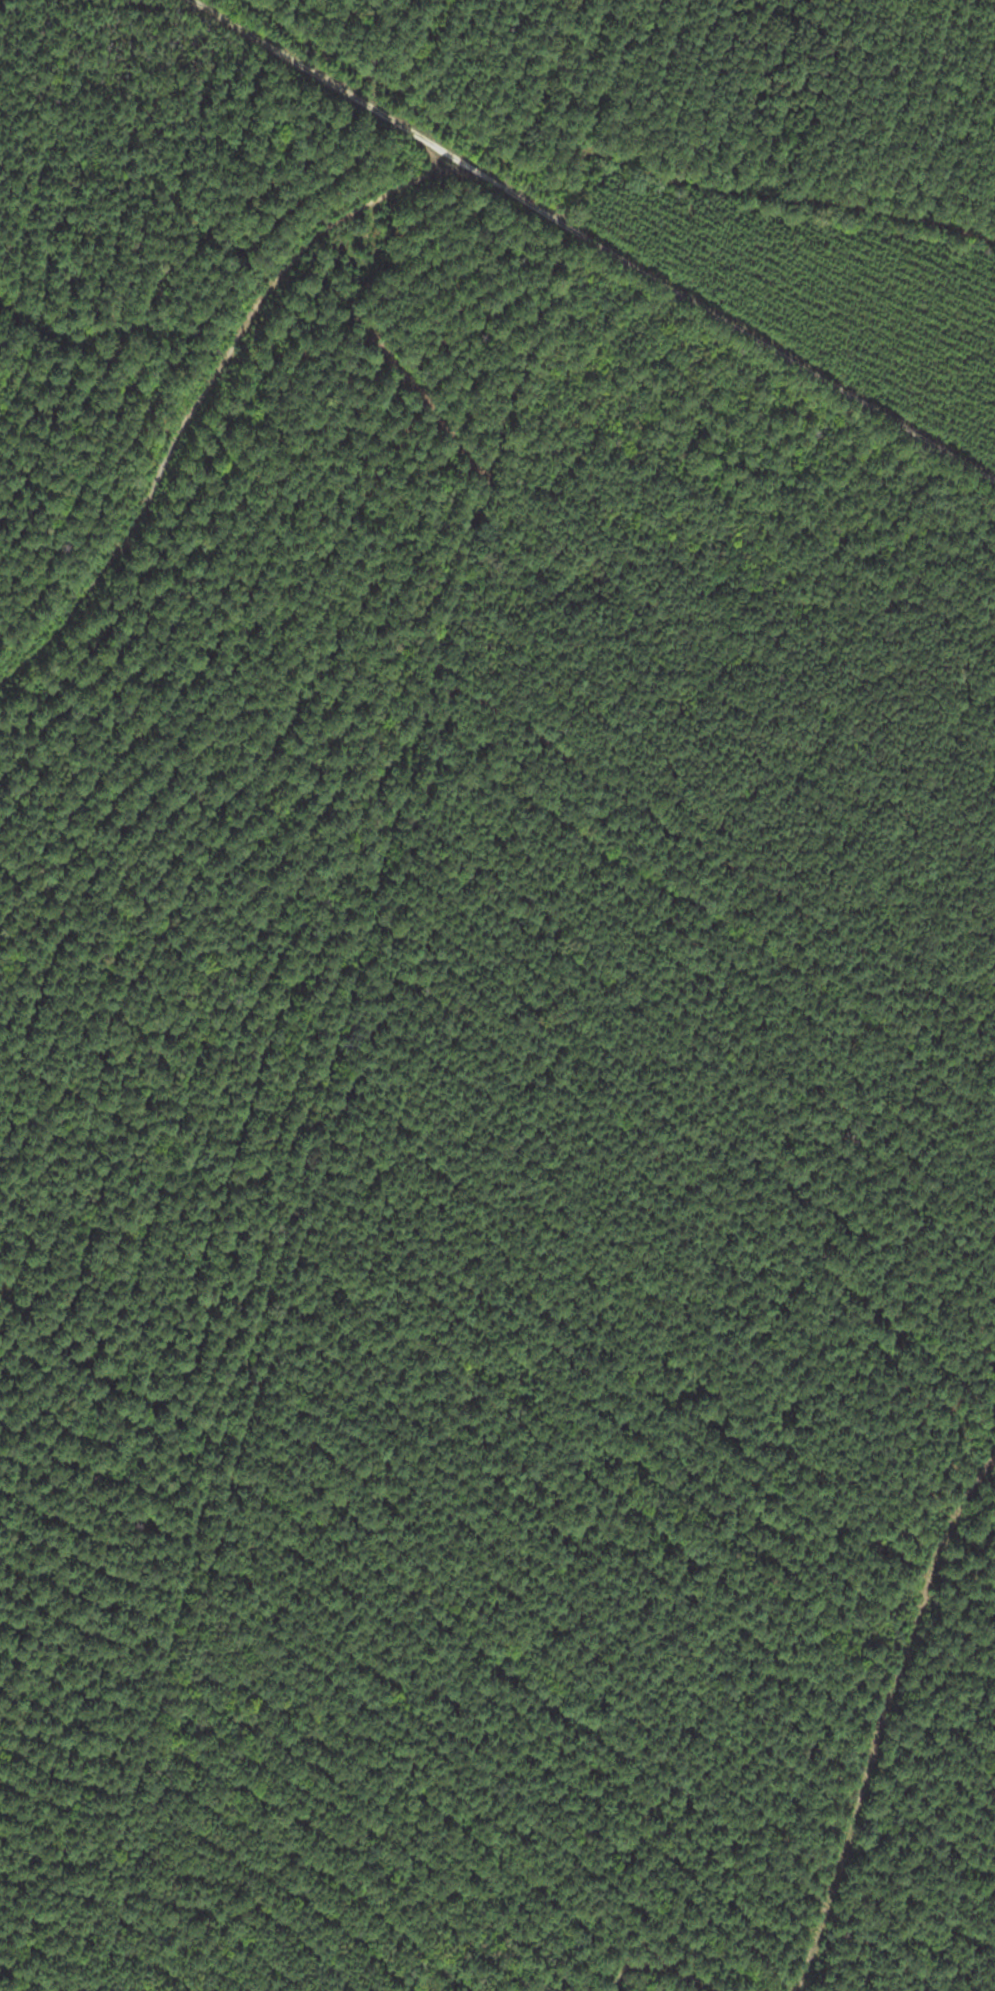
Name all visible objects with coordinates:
road: (588, 247)

